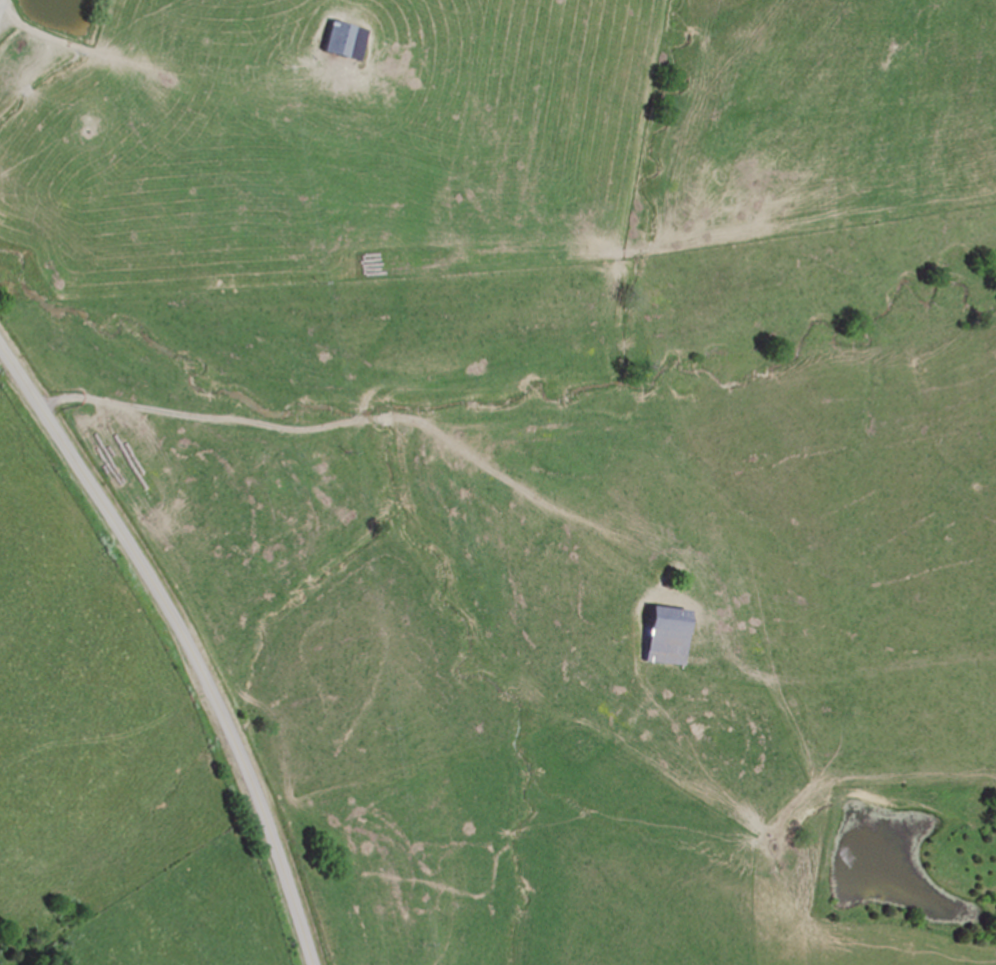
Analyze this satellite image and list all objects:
building: (335, 40)
road: (338, 422)
building: (664, 637)
road: (186, 640)

